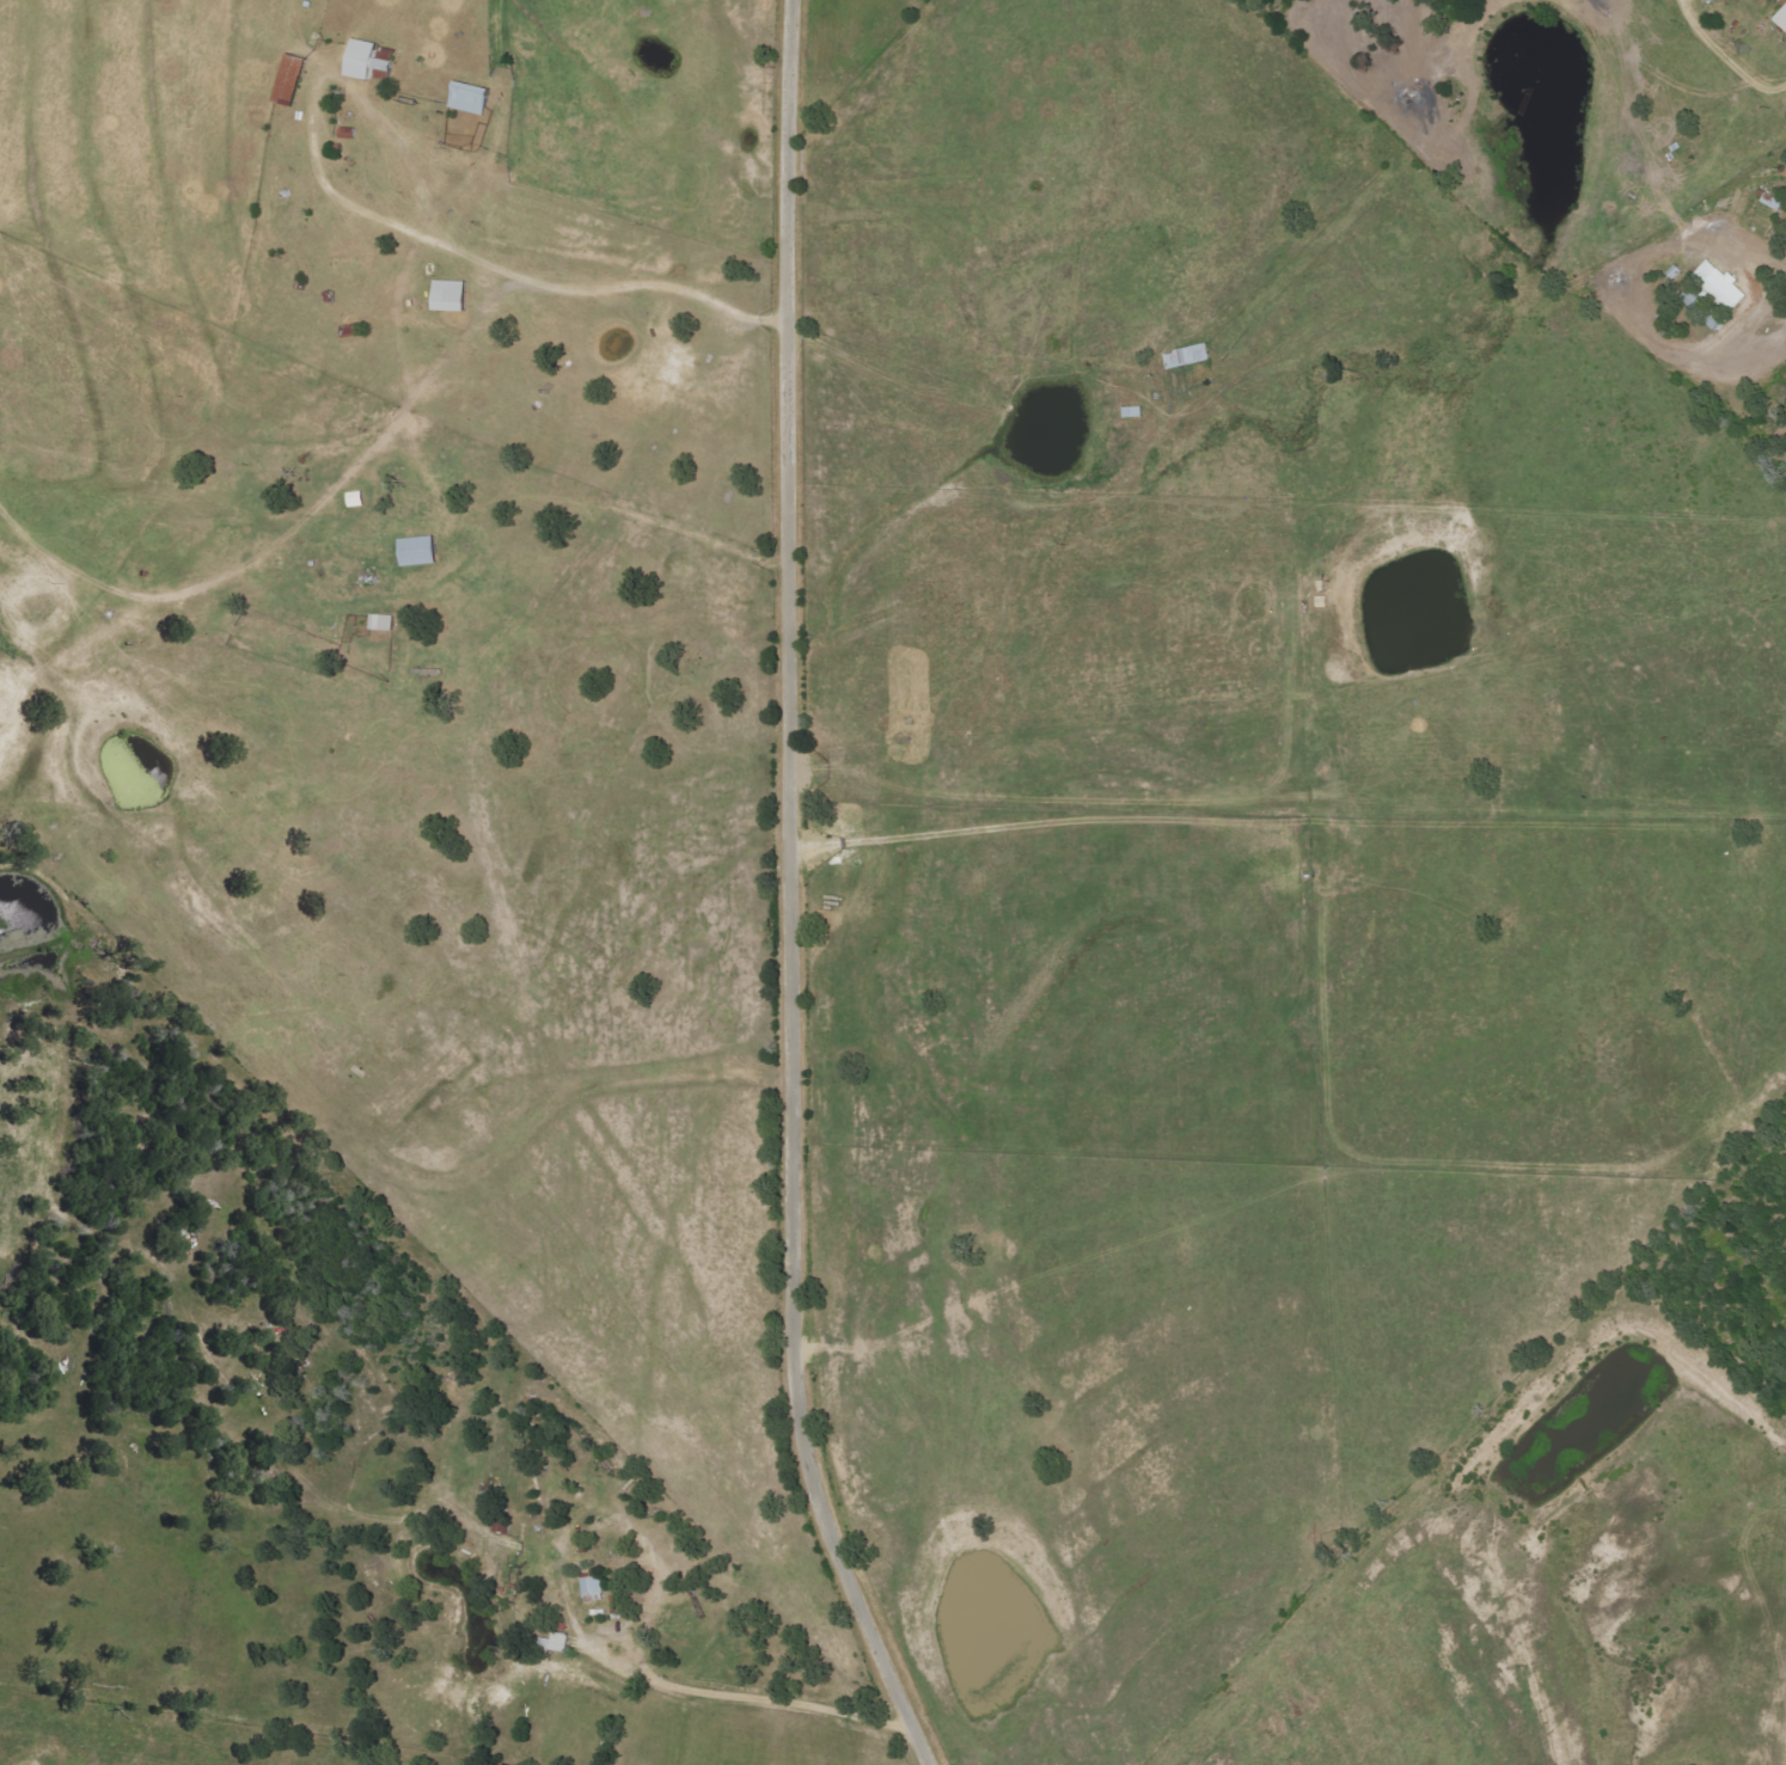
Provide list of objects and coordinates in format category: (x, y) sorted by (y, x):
building: (1782, 18)
road: (1725, 59)
building: (369, 60)
building: (292, 80)
building: (470, 98)
building: (348, 134)
road: (1686, 246)
road: (1761, 247)
building: (1721, 284)
road: (544, 295)
building: (452, 296)
building: (1187, 357)
building: (1134, 412)
building: (421, 551)
building: (383, 623)
road: (789, 895)
building: (594, 1591)
building: (556, 1644)
road: (703, 1690)

